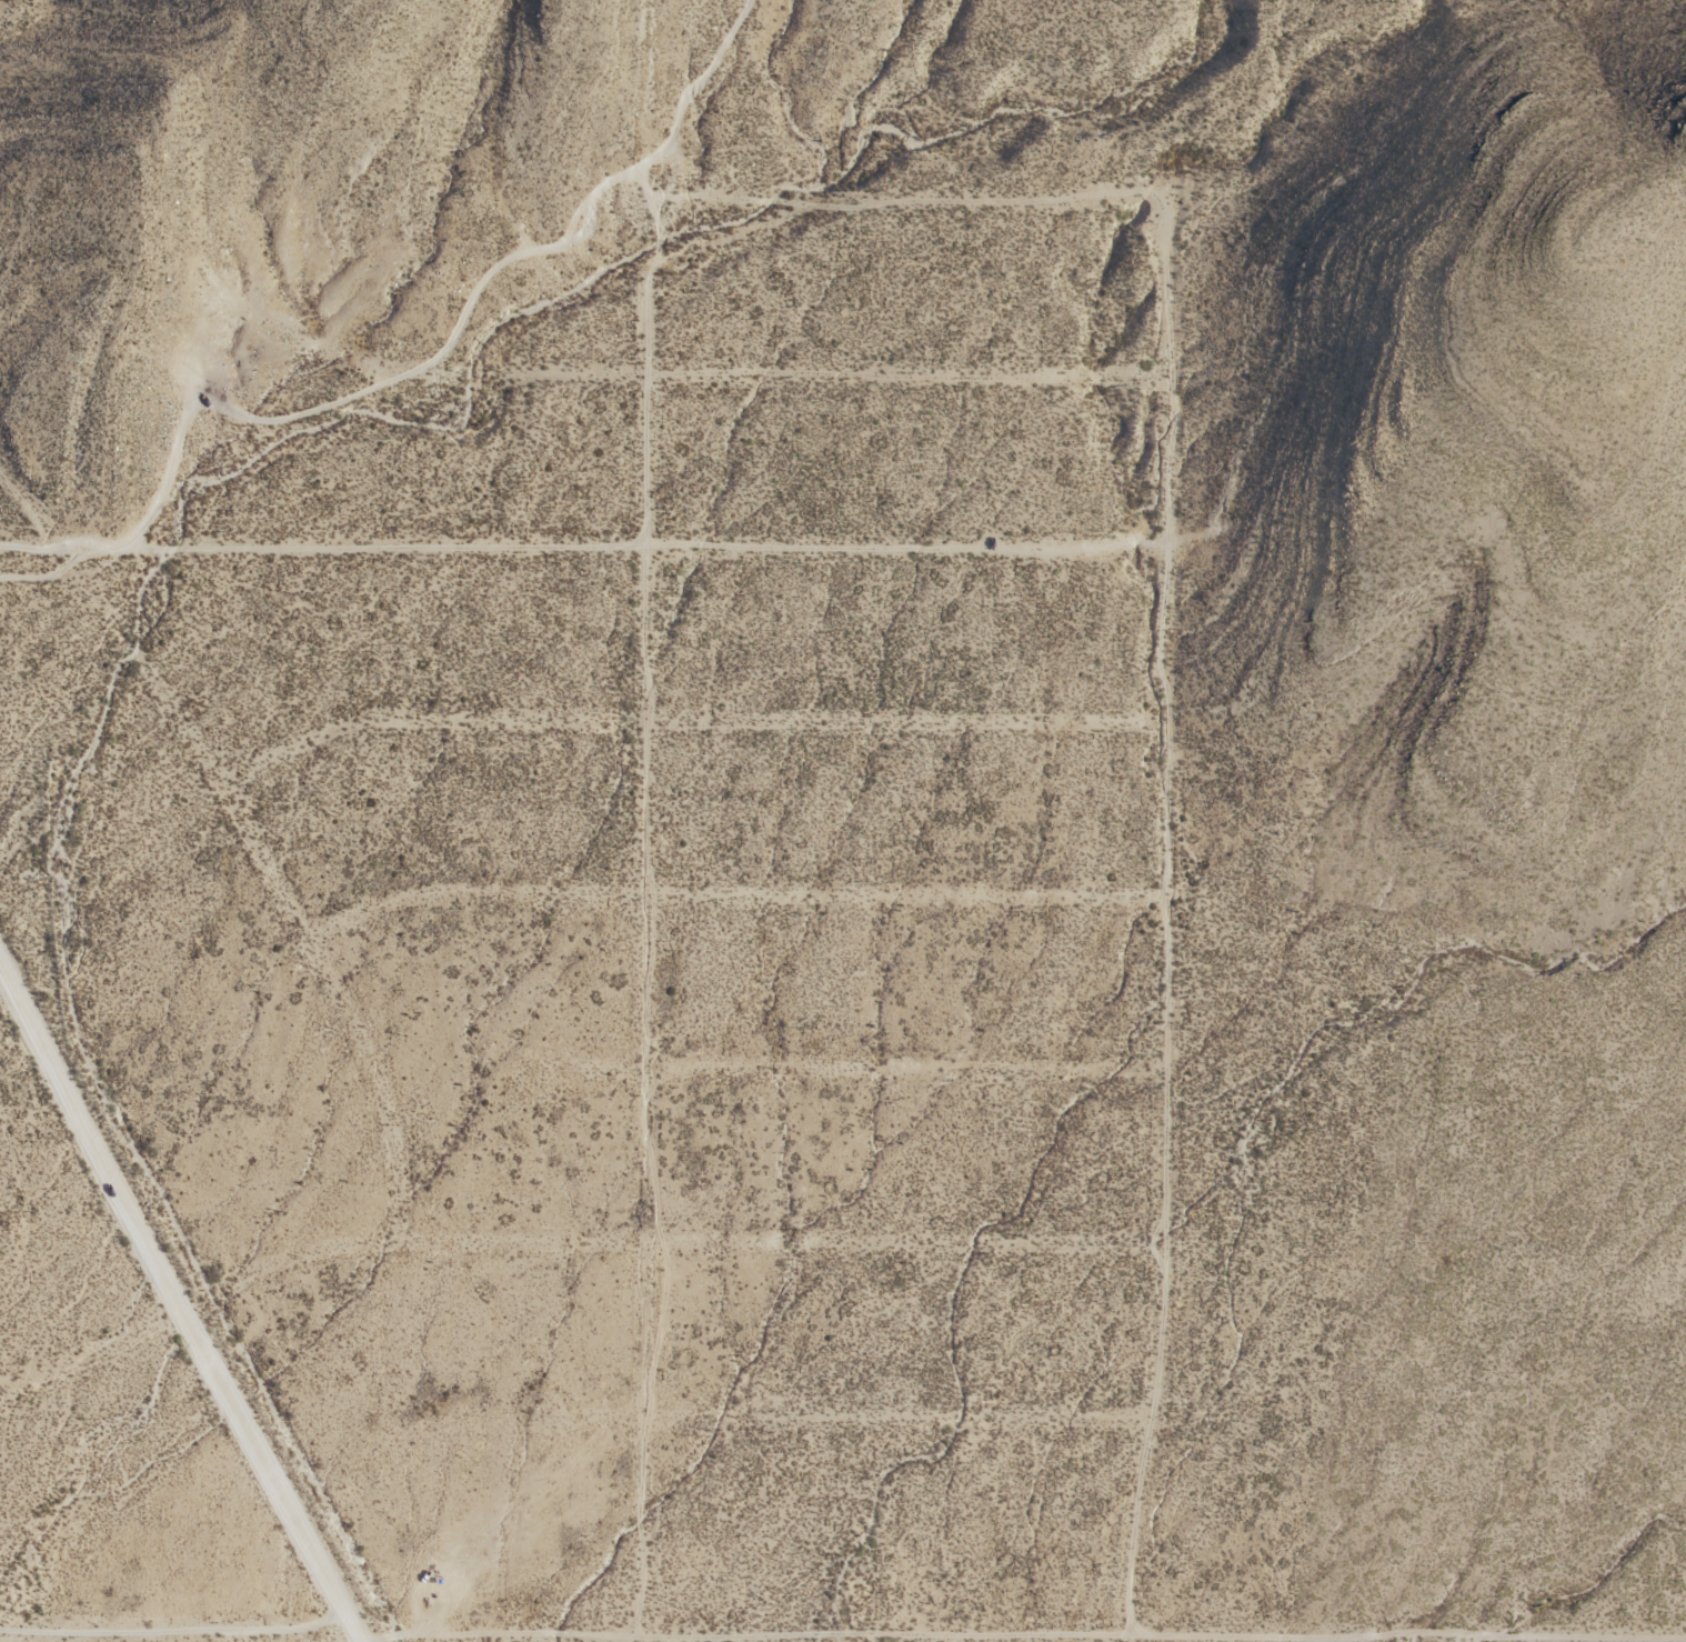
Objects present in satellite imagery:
road: (916, 203)
road: (415, 371)
road: (675, 373)
road: (644, 547)
road: (66, 574)
road: (683, 717)
road: (251, 837)
road: (713, 891)
road: (6, 975)
road: (6, 987)
road: (860, 1069)
road: (566, 1242)
road: (181, 1315)
road: (896, 1418)
road: (177, 1632)
road: (833, 1635)
road: (61, 1636)

